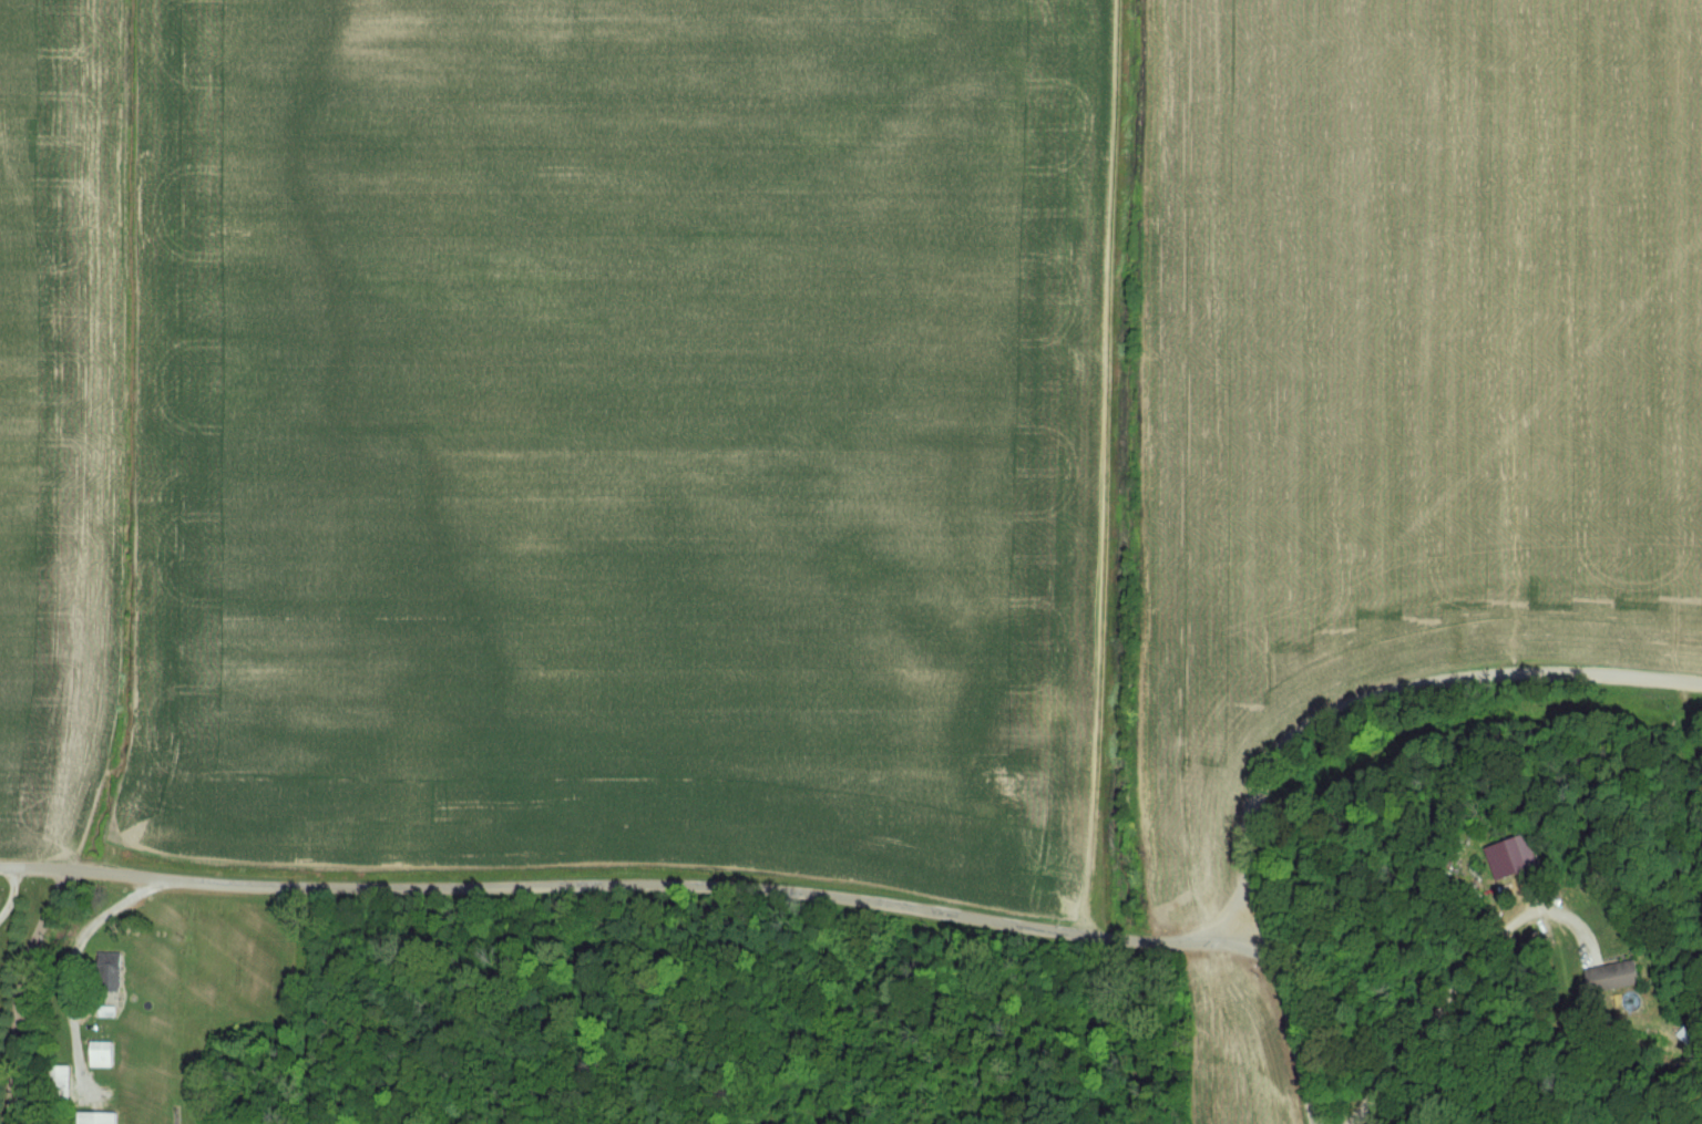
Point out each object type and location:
road: (1380, 700)
road: (637, 889)
road: (12, 898)
road: (1236, 915)
road: (72, 960)
building: (111, 973)
building: (1616, 977)
road: (1458, 983)
road: (19, 993)
road: (1296, 1040)
building: (103, 1055)
building: (62, 1085)
building: (99, 1118)

